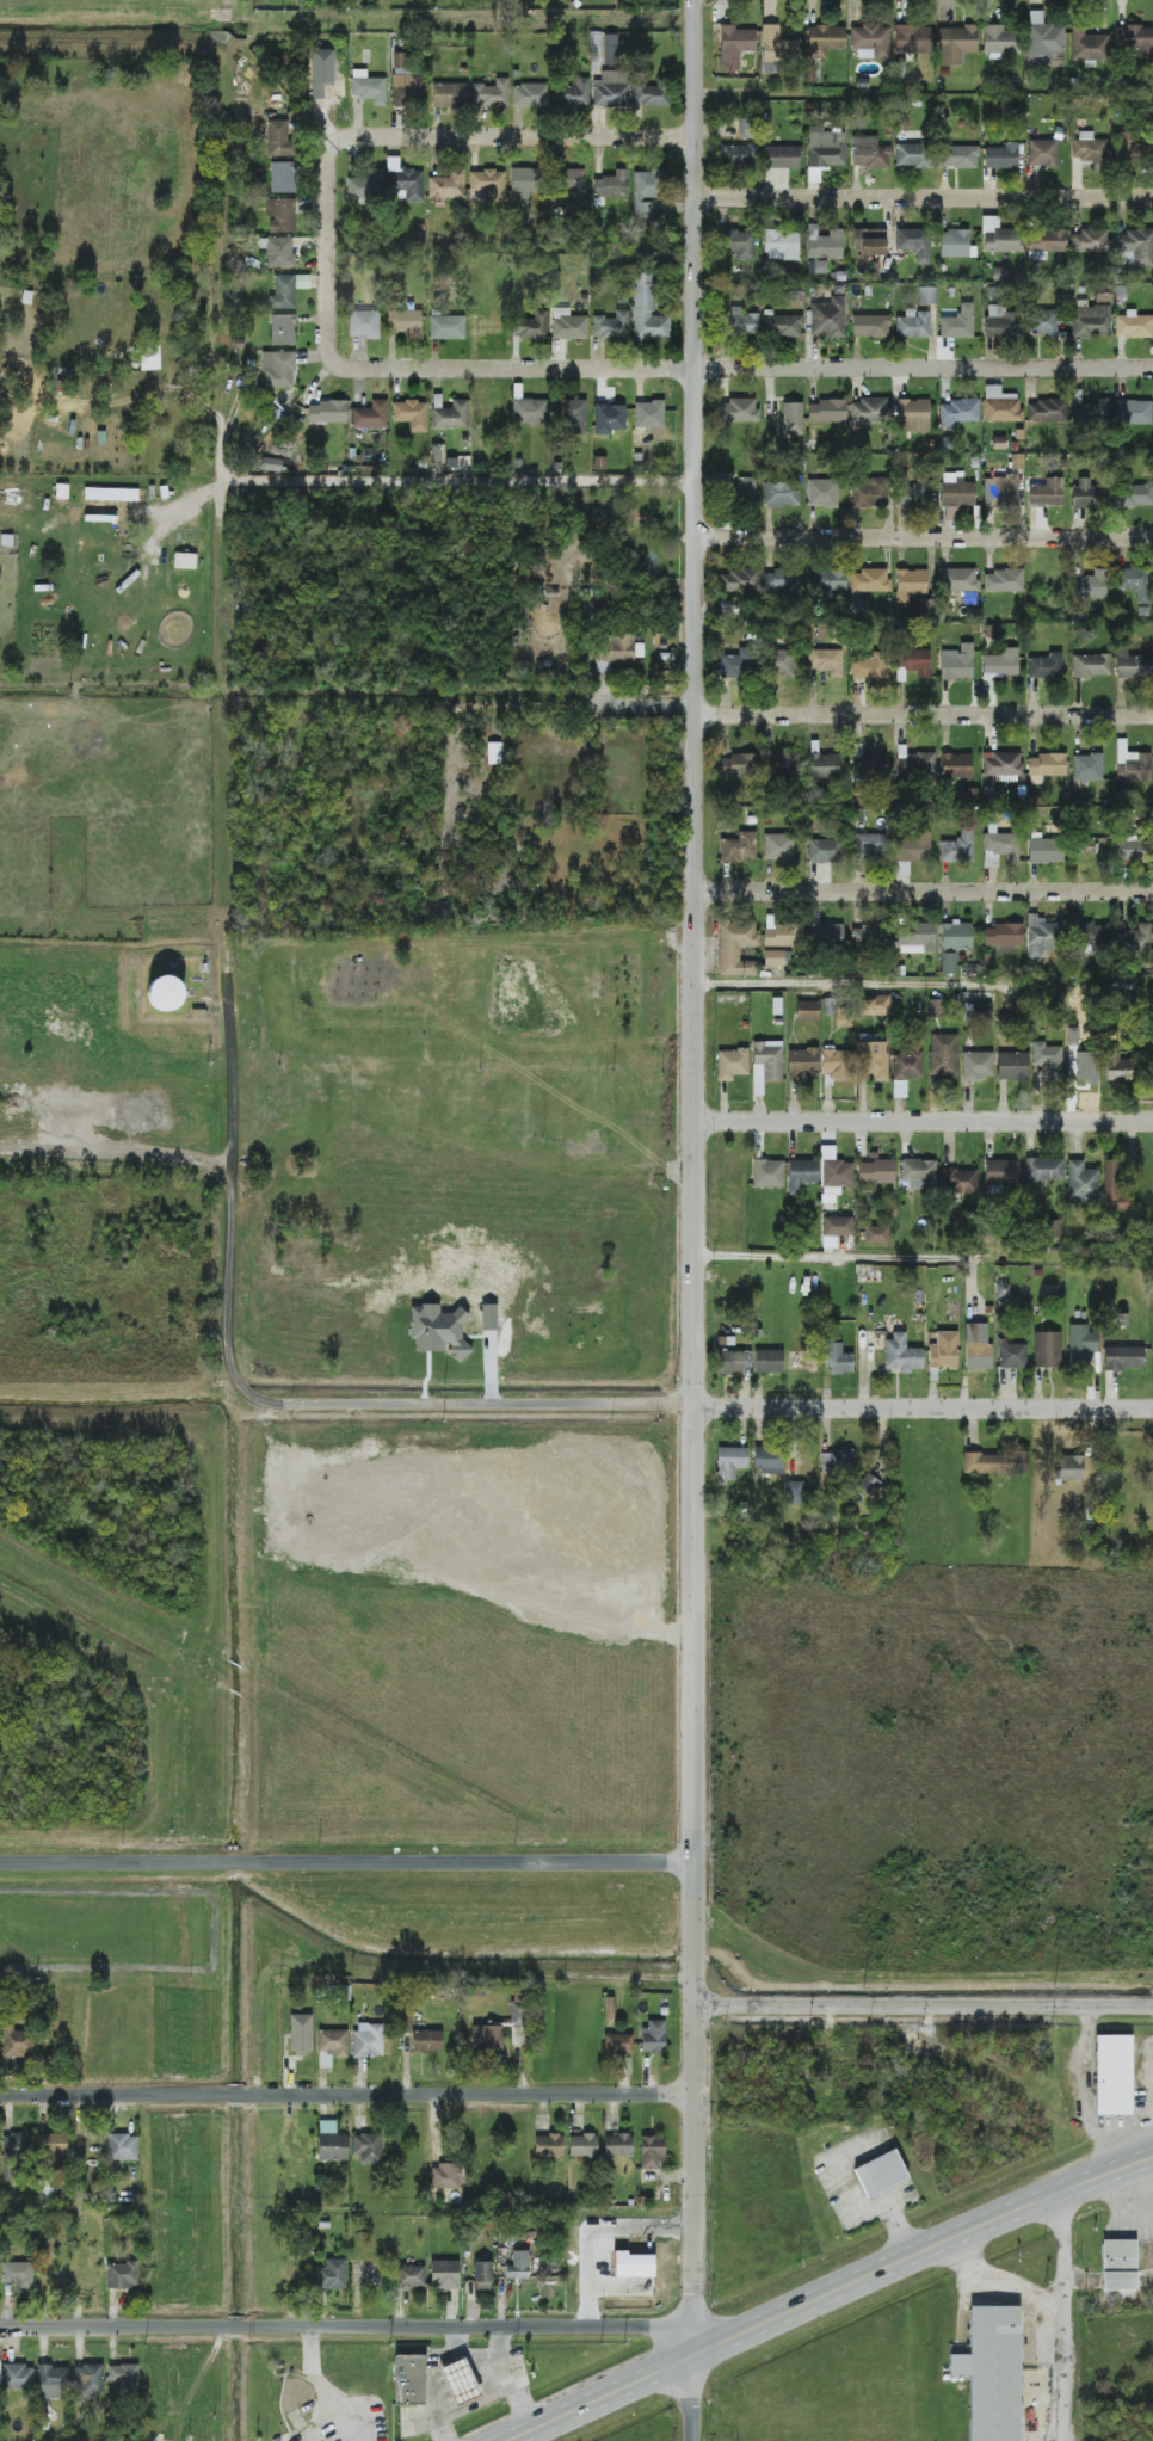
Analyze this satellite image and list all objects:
building: (912, 39)
building: (1042, 39)
building: (825, 41)
building: (1134, 41)
building: (870, 42)
building: (998, 42)
building: (956, 44)
building: (1089, 45)
building: (734, 47)
building: (777, 47)
building: (610, 49)
building: (407, 82)
building: (368, 87)
building: (327, 88)
building: (610, 91)
building: (491, 93)
building: (449, 94)
building: (573, 94)
building: (530, 95)
building: (652, 95)
road: (528, 136)
building: (279, 138)
building: (1130, 147)
building: (1090, 149)
building: (824, 150)
building: (869, 153)
building: (1042, 153)
building: (739, 155)
building: (911, 155)
building: (782, 156)
building: (958, 156)
building: (1001, 156)
building: (283, 177)
building: (403, 181)
building: (525, 181)
building: (572, 184)
building: (366, 185)
building: (448, 185)
building: (488, 185)
building: (611, 185)
building: (646, 192)
road: (924, 201)
building: (280, 215)
road: (328, 234)
building: (1000, 236)
building: (1047, 240)
building: (868, 241)
building: (1090, 241)
building: (914, 242)
building: (739, 244)
building: (824, 244)
building: (956, 244)
building: (781, 245)
building: (1135, 248)
building: (279, 252)
building: (816, 266)
building: (286, 290)
building: (926, 295)
building: (647, 312)
building: (828, 318)
building: (1091, 320)
building: (405, 322)
building: (742, 322)
building: (1001, 322)
building: (1042, 322)
building: (364, 323)
building: (567, 323)
building: (957, 323)
building: (531, 326)
building: (611, 326)
building: (787, 326)
building: (870, 326)
building: (913, 326)
building: (1134, 326)
building: (446, 327)
building: (283, 329)
building: (150, 358)
building: (278, 369)
road: (740, 369)
road: (223, 405)
building: (1000, 405)
building: (530, 411)
building: (738, 411)
building: (826, 411)
building: (870, 411)
building: (1048, 411)
building: (327, 412)
building: (957, 412)
building: (1091, 412)
building: (1133, 412)
building: (411, 414)
building: (572, 414)
building: (648, 414)
building: (370, 415)
building: (451, 415)
building: (913, 415)
building: (791, 418)
building: (610, 420)
building: (272, 464)
road: (409, 481)
building: (736, 488)
building: (1000, 491)
building: (869, 492)
building: (821, 493)
building: (955, 493)
building: (1046, 493)
building: (1089, 493)
building: (111, 494)
building: (781, 494)
building: (1133, 495)
building: (910, 497)
road: (923, 541)
building: (185, 560)
building: (957, 579)
building: (739, 580)
building: (781, 580)
building: (826, 580)
building: (869, 580)
building: (1003, 581)
building: (1135, 582)
building: (910, 584)
building: (1090, 585)
building: (616, 648)
building: (826, 661)
building: (914, 661)
building: (782, 662)
building: (957, 662)
building: (739, 664)
building: (1001, 664)
building: (1091, 665)
building: (1133, 665)
building: (869, 666)
building: (1046, 666)
road: (809, 710)
building: (494, 753)
building: (782, 764)
building: (1046, 764)
building: (1132, 764)
building: (738, 765)
building: (956, 765)
building: (825, 766)
building: (873, 766)
building: (914, 766)
building: (1087, 768)
building: (869, 845)
building: (778, 846)
building: (912, 846)
building: (739, 847)
building: (958, 847)
building: (999, 847)
building: (1130, 849)
building: (1044, 850)
building: (825, 851)
road: (924, 889)
building: (1009, 933)
building: (827, 935)
building: (1042, 936)
building: (870, 937)
building: (915, 937)
building: (988, 937)
building: (1091, 938)
building: (1134, 939)
building: (954, 943)
building: (735, 948)
building: (776, 957)
road: (850, 984)
building: (165, 992)
road: (695, 1001)
building: (874, 1005)
building: (807, 1011)
building: (935, 1011)
building: (982, 1011)
building: (843, 1018)
building: (943, 1056)
building: (1048, 1060)
building: (873, 1061)
building: (732, 1064)
building: (765, 1064)
building: (802, 1064)
building: (1085, 1064)
building: (838, 1065)
building: (978, 1066)
building: (1012, 1066)
building: (1116, 1067)
road: (232, 1075)
road: (924, 1121)
building: (1043, 1169)
building: (876, 1171)
building: (1000, 1172)
building: (767, 1173)
building: (918, 1173)
building: (801, 1175)
building: (958, 1181)
building: (1081, 1183)
building: (1115, 1189)
building: (836, 1229)
building: (1053, 1229)
building: (876, 1235)
road: (864, 1257)
road: (228, 1293)
building: (1081, 1343)
building: (978, 1346)
building: (943, 1350)
building: (1047, 1350)
building: (901, 1355)
building: (1012, 1355)
building: (1123, 1357)
building: (838, 1358)
building: (769, 1361)
building: (730, 1362)
road: (713, 1406)
building: (767, 1460)
building: (730, 1461)
building: (837, 1461)
building: (994, 1462)
building: (1069, 1468)
building: (868, 1484)
building: (794, 1492)
road: (351, 1862)
road: (925, 2005)
building: (300, 2033)
building: (653, 2036)
building: (487, 2039)
building: (368, 2040)
building: (17, 2041)
building: (427, 2041)
building: (333, 2042)
building: (618, 2044)
building: (1114, 2075)
road: (349, 2092)
road: (1085, 2092)
building: (332, 2141)
building: (18, 2145)
building: (548, 2145)
building: (582, 2145)
building: (618, 2145)
building: (53, 2146)
building: (122, 2146)
building: (368, 2146)
building: (652, 2152)
building: (880, 2171)
building: (446, 2176)
building: (47, 2190)
road: (147, 2211)
road: (699, 2223)
building: (518, 2264)
building: (633, 2264)
building: (1118, 2269)
building: (18, 2274)
building: (122, 2274)
building: (332, 2274)
building: (444, 2274)
building: (482, 2275)
building: (411, 2276)
road: (999, 2285)
road: (828, 2294)
road: (1060, 2316)
road: (350, 2328)
building: (991, 2371)
building: (18, 2377)
building: (123, 2377)
building: (409, 2379)
building: (53, 2381)
building: (458, 2381)
building: (88, 2383)
road: (328, 2386)
road: (193, 2387)

